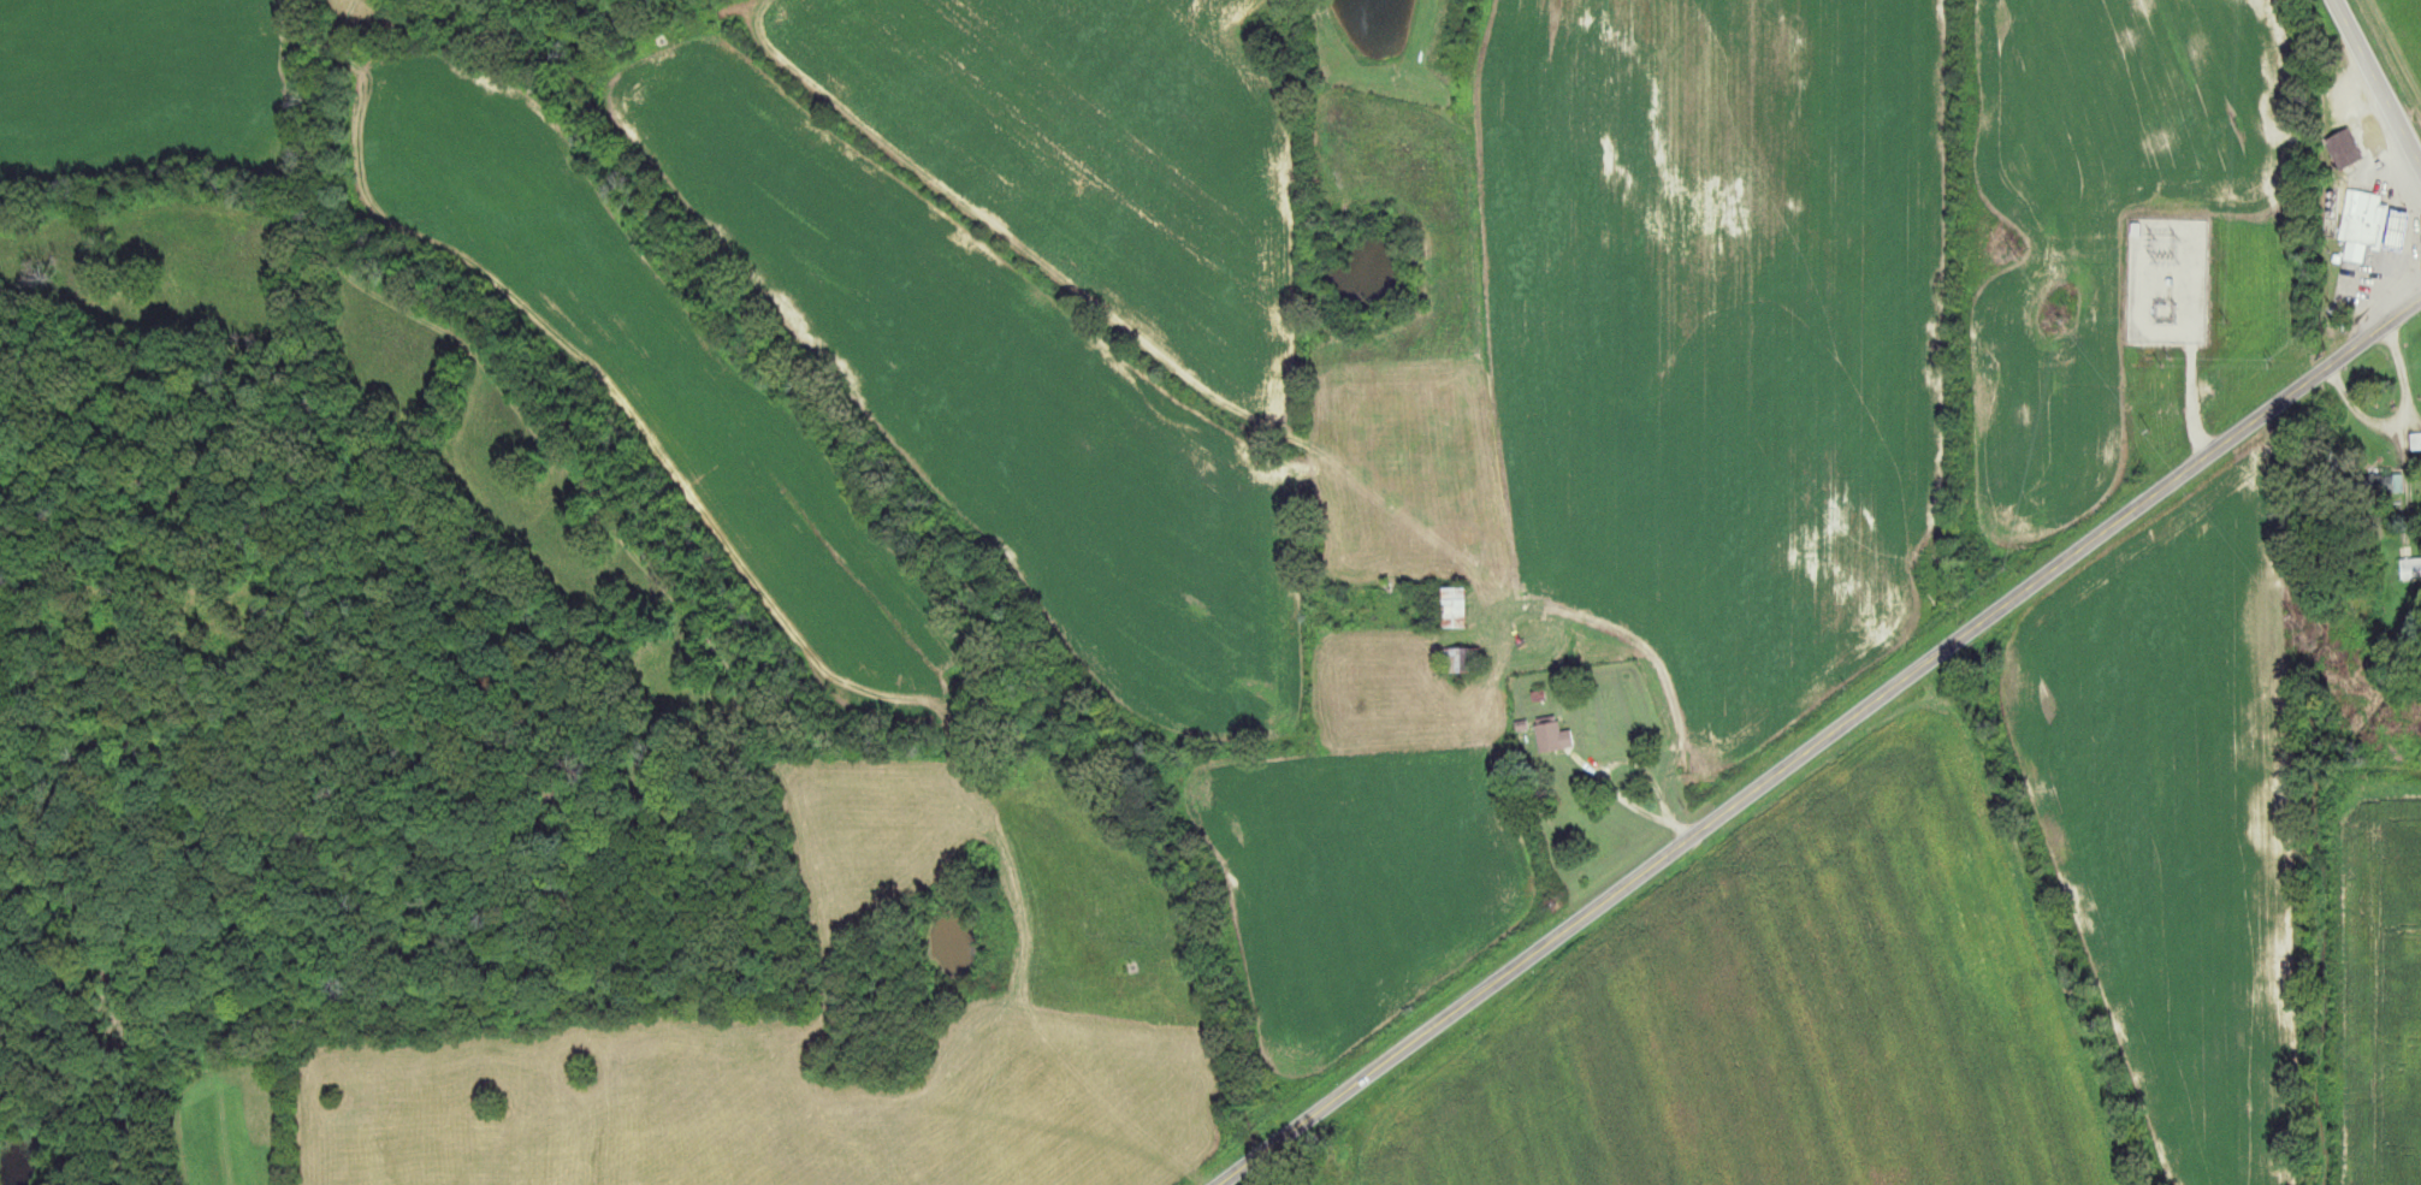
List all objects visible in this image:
road: (2376, 83)
building: (2344, 148)
building: (2362, 224)
building: (2382, 484)
building: (2411, 568)
building: (1456, 609)
building: (1461, 662)
building: (1559, 737)
road: (1822, 739)

